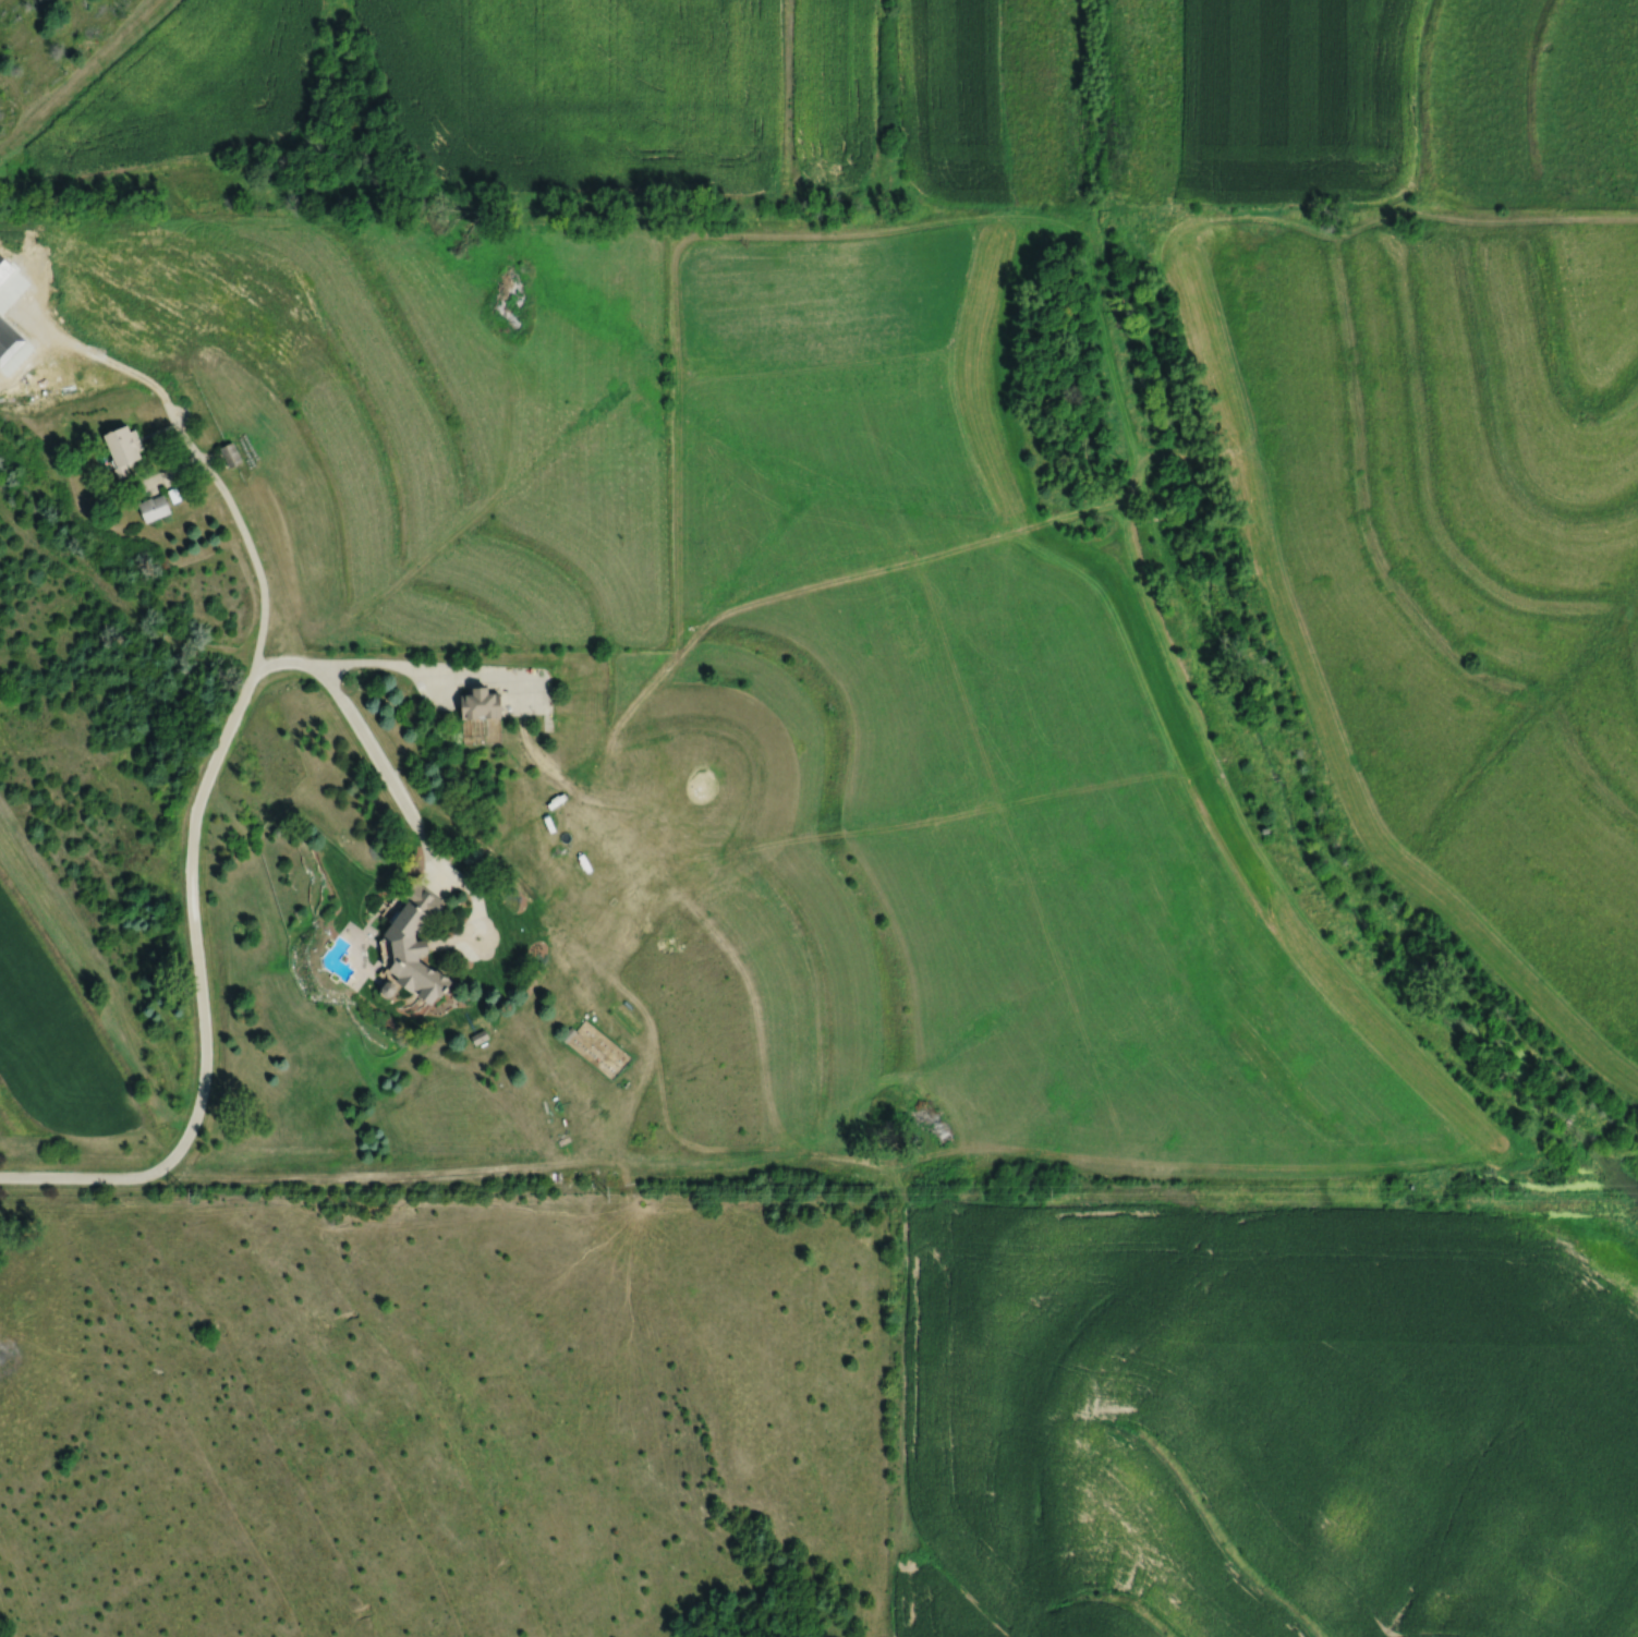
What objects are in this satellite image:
building: (121, 451)
building: (230, 457)
road: (208, 466)
building: (153, 510)
road: (418, 664)
building: (478, 703)
road: (367, 743)
building: (416, 943)
road: (198, 978)
power tower: (608, 1190)
power tower: (191, 1191)
power tower: (1491, 1191)
power tower: (1049, 1192)

